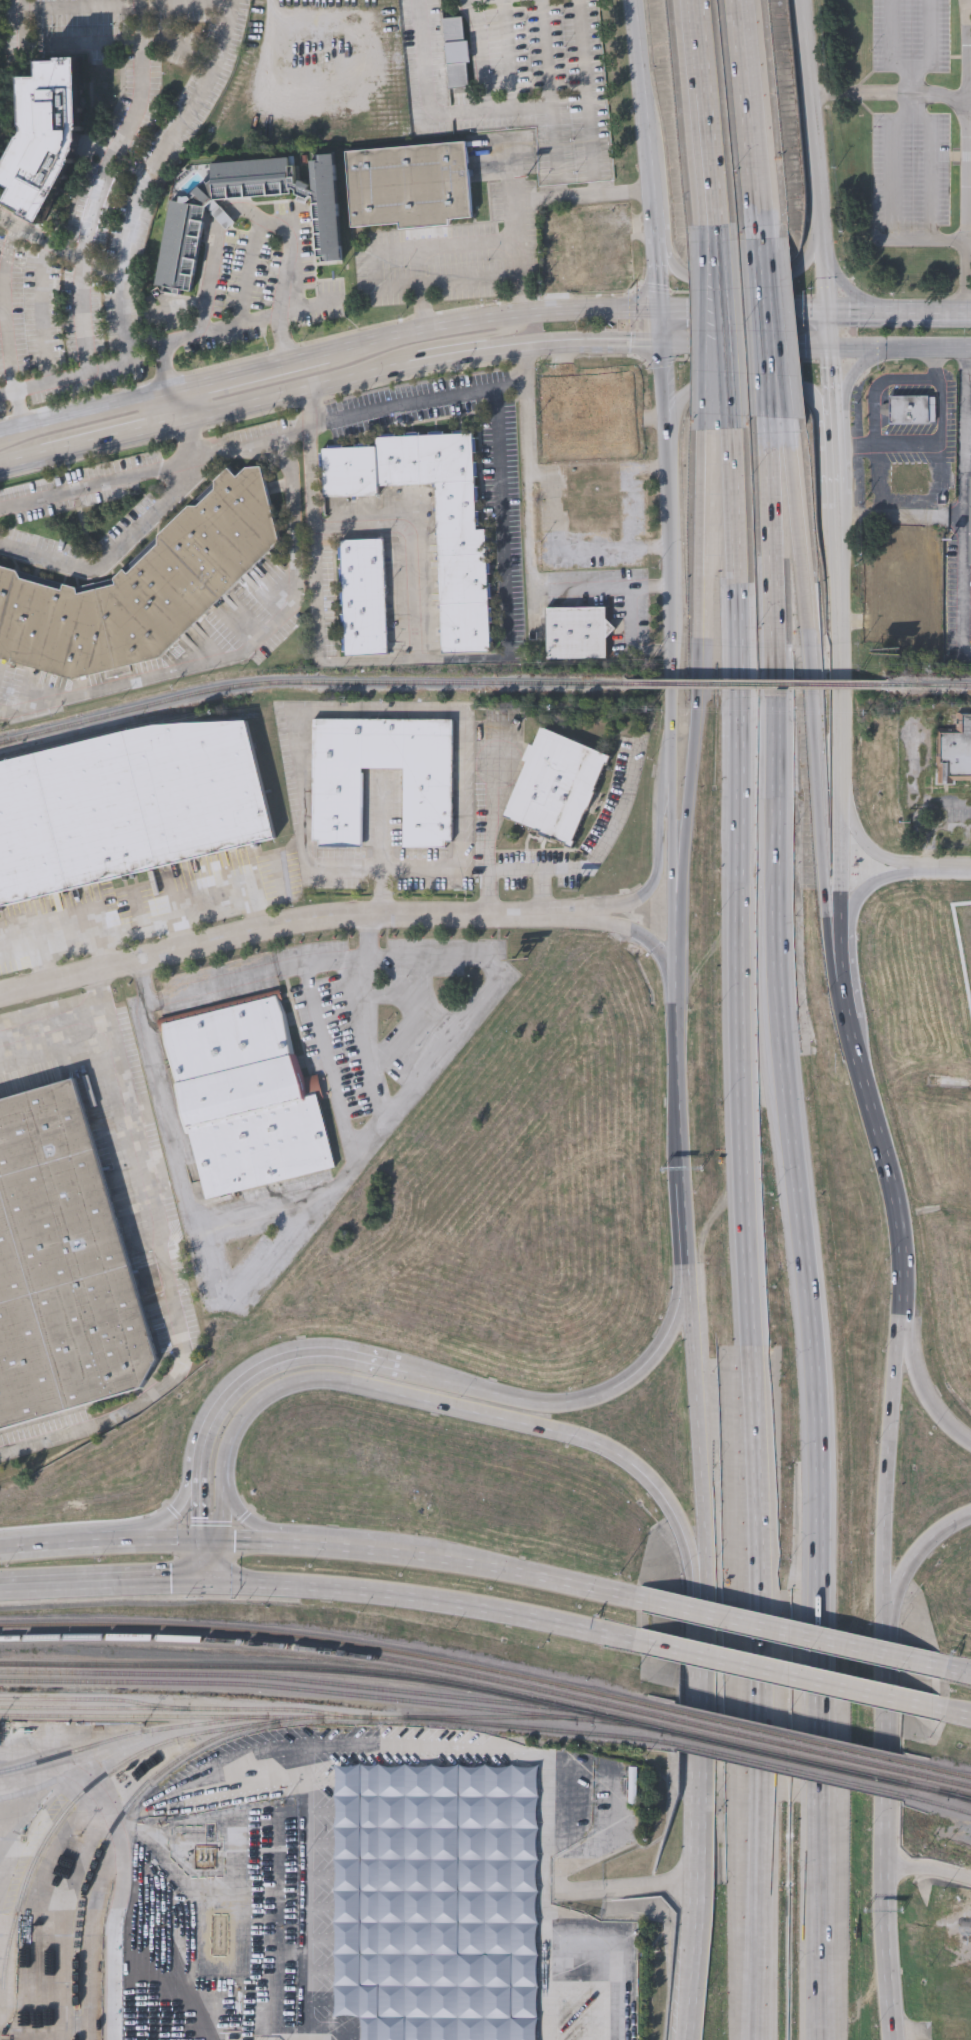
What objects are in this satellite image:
road: (127, 3)
road: (139, 19)
road: (85, 40)
road: (891, 44)
road: (967, 49)
road: (508, 53)
building: (457, 55)
road: (933, 57)
road: (891, 94)
road: (308, 101)
road: (650, 103)
road: (489, 108)
road: (702, 116)
road: (749, 116)
building: (45, 137)
road: (934, 167)
road: (151, 171)
road: (822, 176)
building: (408, 184)
road: (890, 191)
road: (523, 198)
road: (968, 205)
road: (655, 222)
road: (88, 224)
building: (183, 225)
road: (621, 225)
road: (549, 232)
road: (41, 235)
road: (640, 237)
road: (448, 246)
building: (584, 248)
road: (762, 259)
road: (248, 270)
road: (44, 272)
road: (658, 272)
road: (738, 272)
road: (607, 276)
road: (284, 278)
road: (445, 283)
road: (207, 290)
road: (852, 290)
traffic signals: (834, 305)
road: (857, 306)
traffic signals: (660, 308)
road: (908, 310)
road: (953, 311)
road: (661, 326)
road: (411, 331)
road: (725, 336)
road: (713, 337)
road: (146, 341)
road: (441, 343)
traffic signals: (662, 345)
road: (751, 349)
road: (164, 350)
traffic signals: (840, 353)
road: (905, 354)
road: (5, 356)
road: (773, 358)
road: (765, 359)
road: (421, 365)
road: (859, 370)
road: (68, 374)
road: (617, 376)
road: (840, 380)
road: (969, 380)
road: (524, 383)
road: (877, 386)
road: (7, 391)
road: (751, 396)
road: (17, 401)
road: (181, 404)
building: (589, 408)
building: (913, 408)
road: (113, 435)
road: (600, 442)
road: (937, 447)
road: (238, 451)
road: (839, 457)
road: (21, 459)
building: (909, 479)
road: (119, 482)
road: (964, 505)
building: (970, 519)
road: (530, 537)
road: (110, 550)
road: (670, 551)
building: (904, 578)
building: (143, 590)
building: (463, 591)
building: (363, 598)
road: (632, 617)
building: (575, 633)
road: (317, 641)
road: (246, 643)
road: (506, 657)
railway: (309, 680)
railway: (756, 683)
railway: (929, 684)
road: (696, 687)
road: (808, 705)
road: (352, 710)
road: (840, 718)
railway: (124, 722)
building: (954, 751)
building: (554, 786)
building: (128, 807)
building: (338, 808)
road: (383, 824)
road: (488, 825)
road: (610, 826)
road: (865, 842)
road: (668, 846)
road: (659, 868)
road: (938, 868)
road: (538, 869)
road: (864, 889)
road: (142, 920)
road: (281, 935)
road: (181, 936)
road: (634, 936)
road: (18, 946)
road: (102, 953)
road: (842, 953)
road: (412, 956)
road: (848, 999)
road: (45, 1039)
road: (329, 1044)
road: (677, 1058)
building: (245, 1096)
road: (878, 1114)
road: (277, 1199)
road: (809, 1236)
road: (750, 1239)
road: (689, 1243)
road: (906, 1253)
building: (60, 1269)
road: (155, 1271)
road: (250, 1279)
road: (260, 1361)
road: (921, 1373)
road: (440, 1376)
road: (600, 1391)
road: (442, 1402)
road: (695, 1447)
road: (894, 1459)
traffic signals: (187, 1513)
road: (186, 1514)
road: (245, 1514)
road: (157, 1521)
road: (200, 1540)
road: (150, 1541)
traffic signals: (245, 1542)
road: (249, 1542)
road: (102, 1544)
road: (341, 1546)
road: (43, 1547)
road: (915, 1558)
road: (184, 1561)
road: (215, 1561)
road: (517, 1571)
road: (91, 1582)
road: (199, 1582)
traffic signals: (168, 1583)
road: (426, 1601)
road: (792, 1633)
railway: (326, 1639)
railway: (326, 1649)
railway: (326, 1668)
road: (960, 1672)
road: (791, 1677)
railway: (293, 1678)
road: (694, 1683)
railway: (324, 1690)
railway: (95, 1699)
railway: (185, 1708)
road: (959, 1714)
railway: (127, 1716)
railway: (509, 1716)
railway: (352, 1717)
railway: (534, 1728)
railway: (774, 1733)
railway: (125, 1736)
road: (883, 1741)
railway: (774, 1742)
railway: (680, 1753)
railway: (775, 1754)
railway: (724, 1762)
railway: (773, 1764)
railway: (936, 1770)
railway: (936, 1779)
railway: (847, 1790)
railway: (936, 1790)
railway: (964, 1797)
railway: (75, 1799)
railway: (895, 1802)
railway: (937, 1802)
railway: (895, 1803)
road: (312, 1804)
building: (520, 1815)
railway: (114, 1821)
road: (687, 1845)
road: (123, 1854)
road: (927, 1869)
road: (584, 1891)
road: (894, 1949)
road: (544, 1950)
road: (683, 1978)

